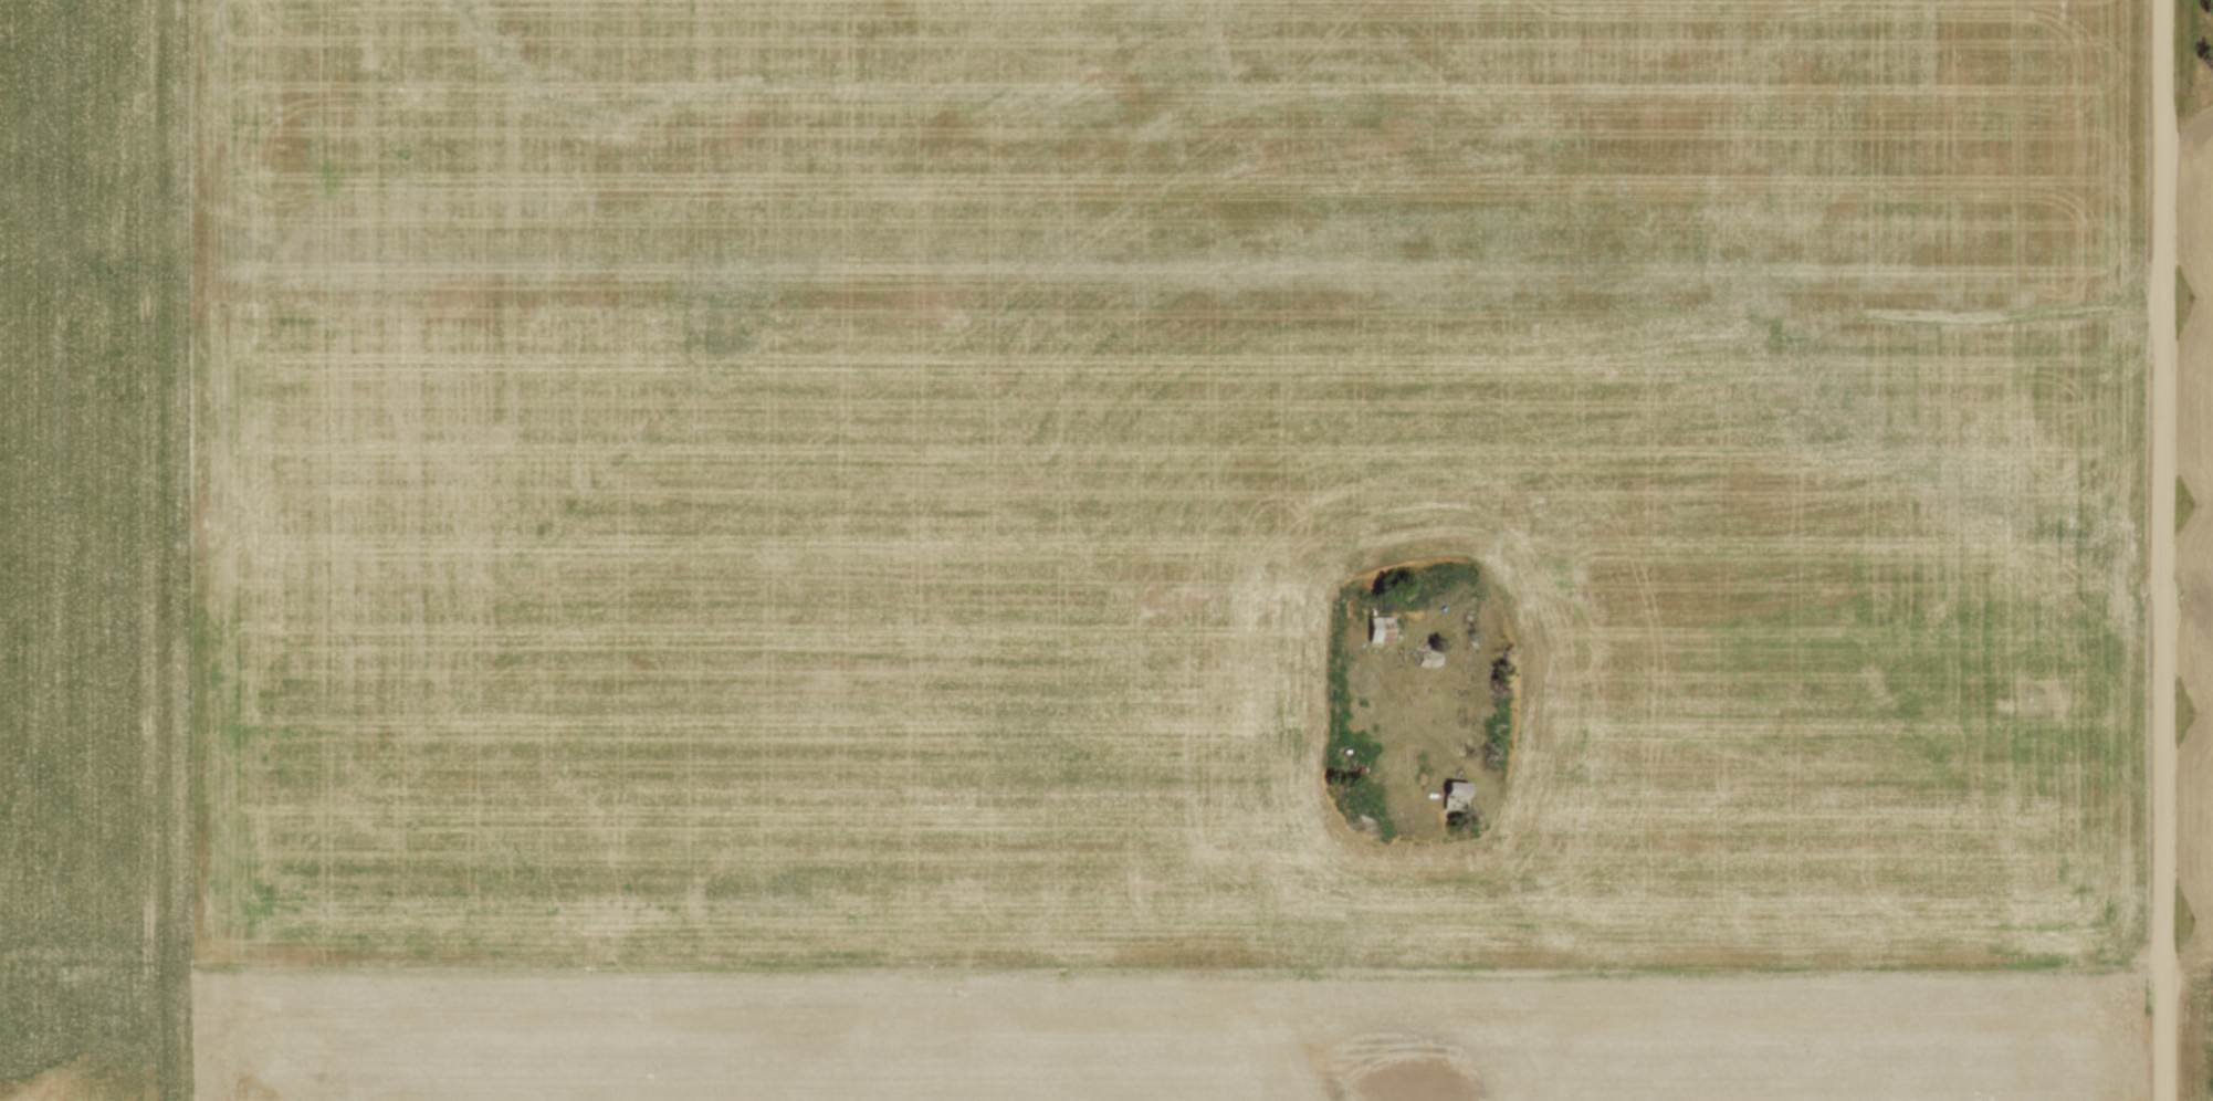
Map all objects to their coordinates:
crop: (1071, 550)
road: (2161, 550)
crop: (2198, 606)
building: (1381, 630)
building: (1427, 658)
building: (1456, 793)

